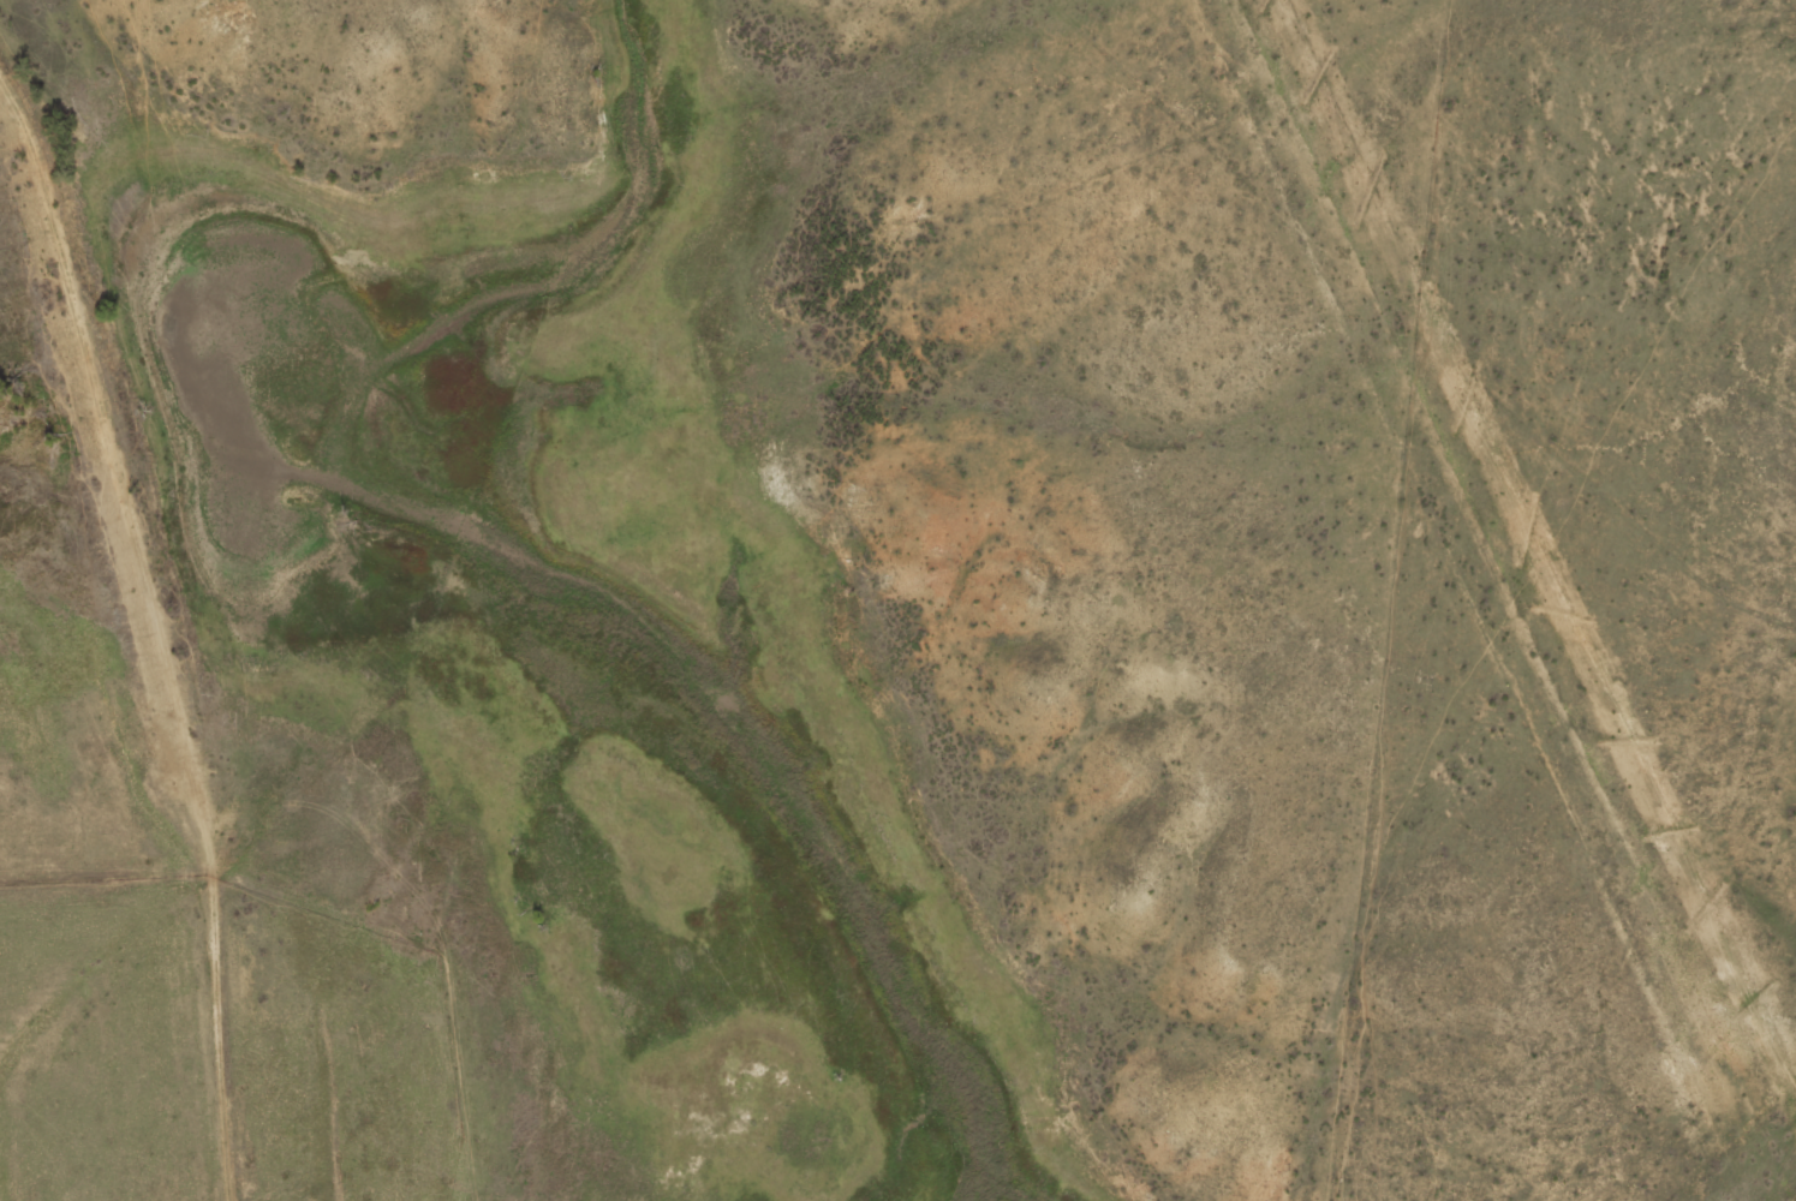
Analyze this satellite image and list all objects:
road: (1367, 354)
road: (132, 707)

